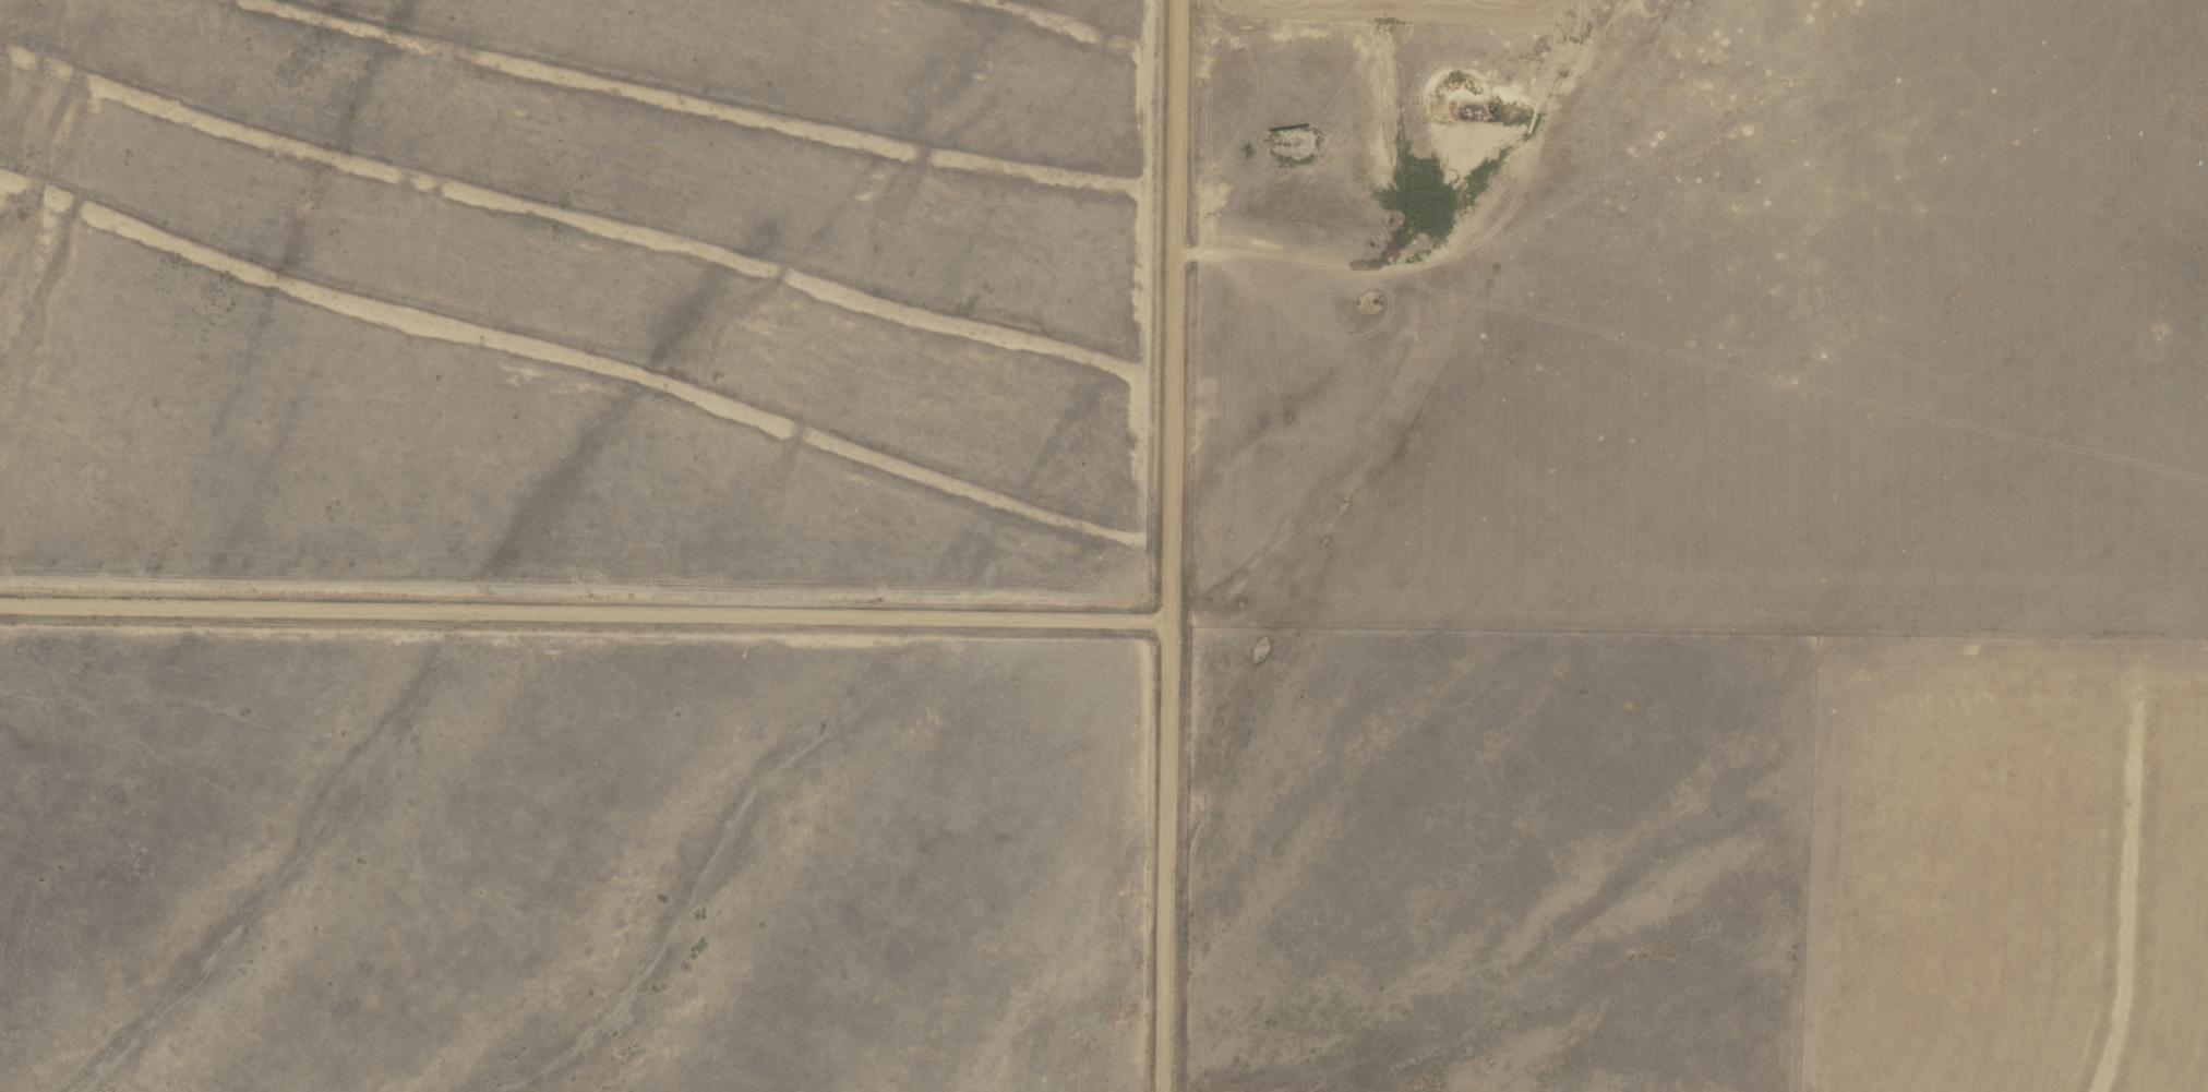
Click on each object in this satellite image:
road: (1169, 545)
road: (585, 613)

